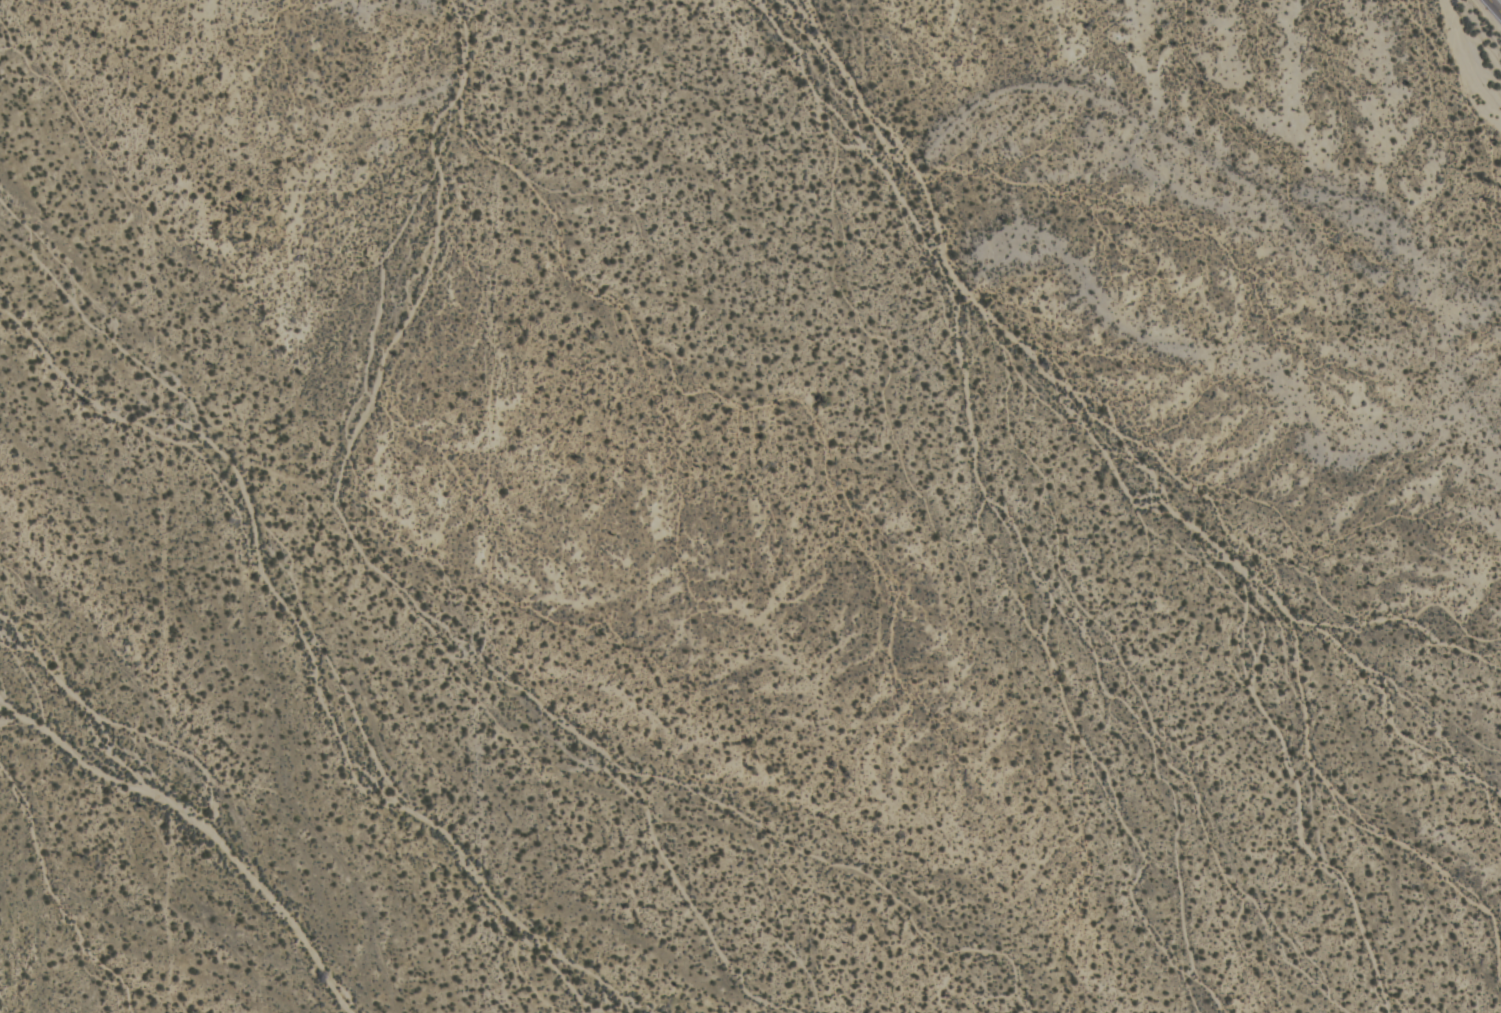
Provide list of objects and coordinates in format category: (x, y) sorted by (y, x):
road: (1495, 6)

